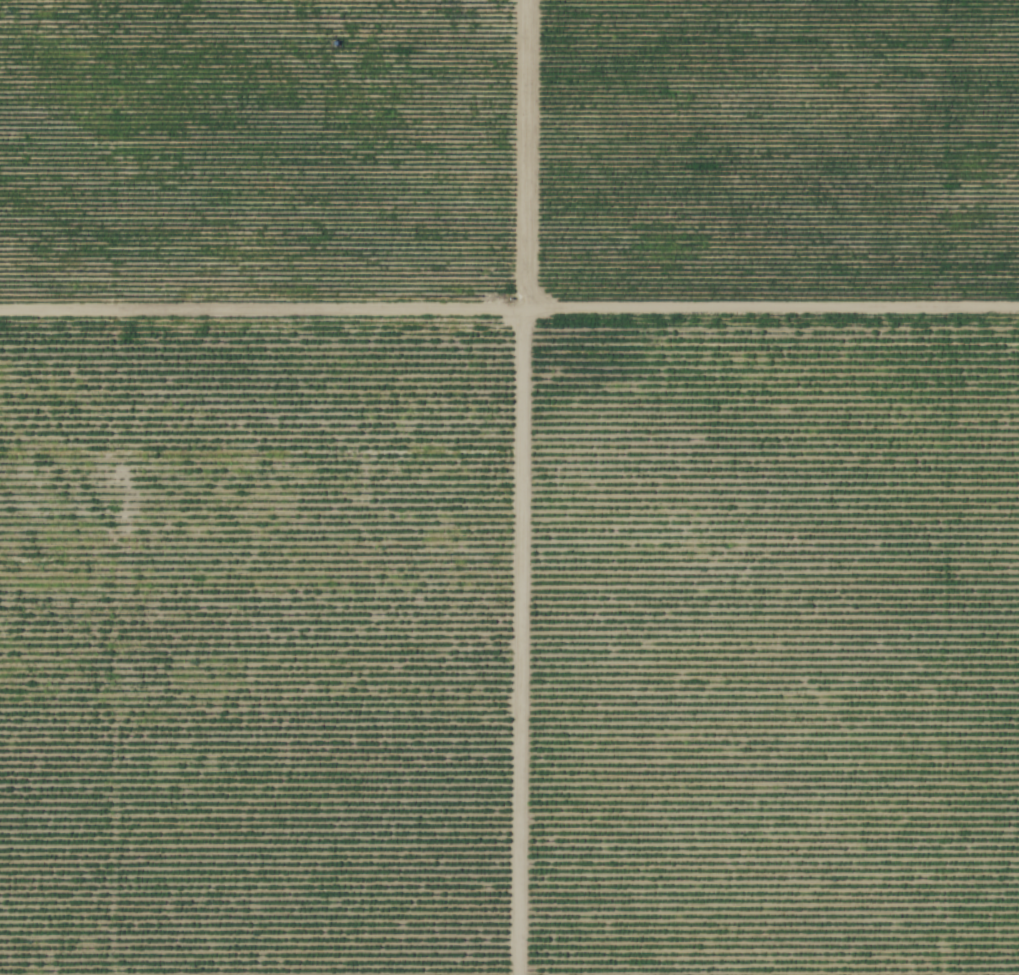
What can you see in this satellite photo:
road: (509, 314)
road: (517, 487)
crop: (254, 646)

